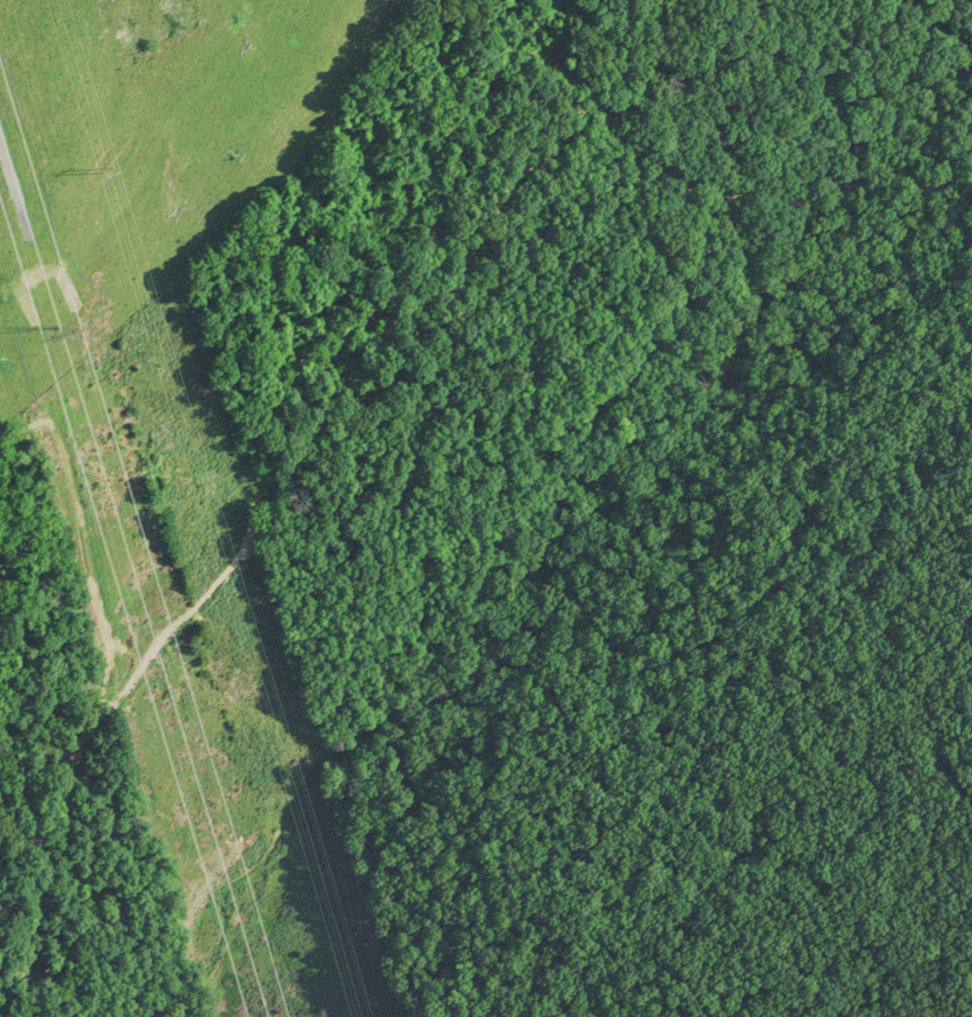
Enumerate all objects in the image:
power tower: (110, 171)
power tower: (57, 329)

